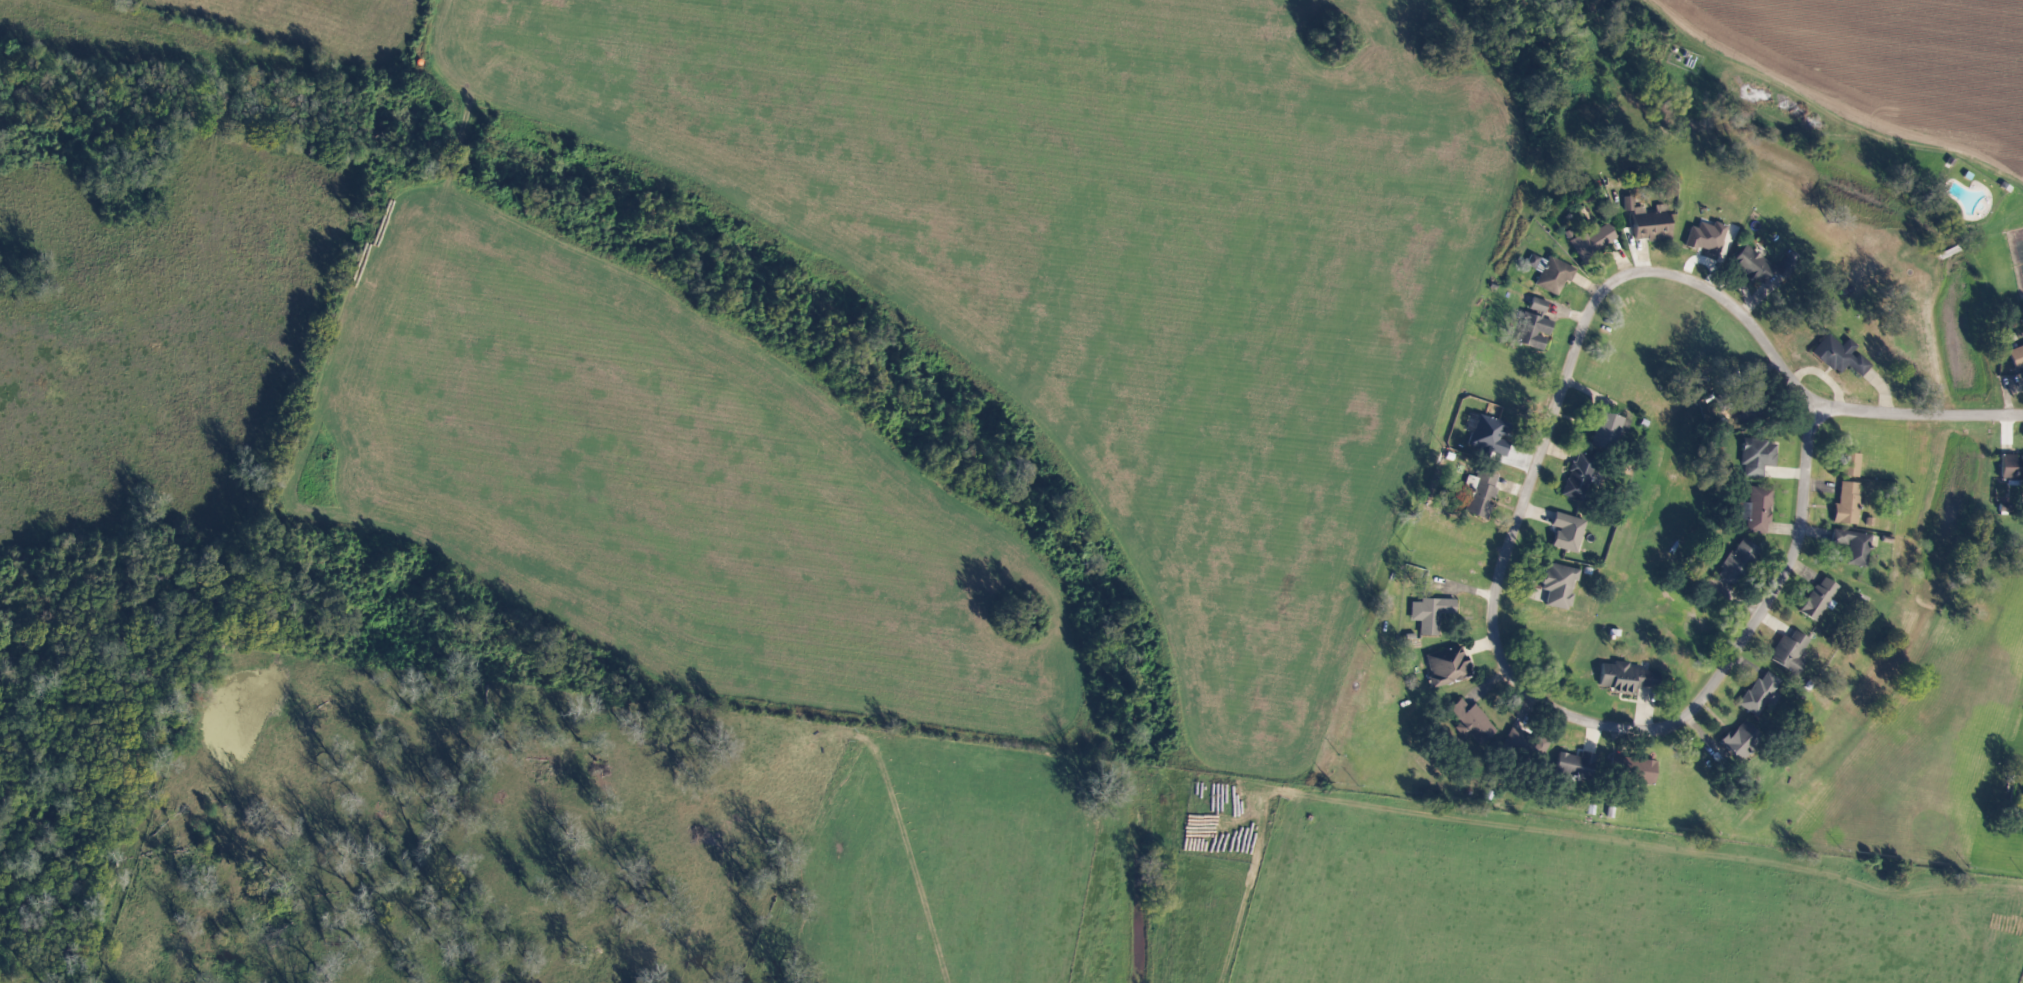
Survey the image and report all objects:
building: (1651, 224)
building: (1706, 238)
building: (1593, 240)
building: (1751, 266)
building: (1551, 273)
building: (1535, 325)
building: (1840, 356)
road: (1914, 413)
building: (1487, 436)
road: (1537, 448)
building: (1758, 457)
building: (1850, 465)
building: (2011, 468)
building: (1579, 478)
building: (1480, 494)
building: (1847, 505)
building: (1755, 511)
building: (1567, 532)
building: (1853, 546)
building: (1736, 561)
building: (1558, 585)
building: (1819, 600)
building: (1431, 614)
building: (1790, 652)
building: (1446, 667)
building: (1625, 678)
building: (1761, 695)
building: (1471, 722)
building: (1740, 740)
building: (1525, 746)
building: (1575, 765)
building: (1632, 769)

